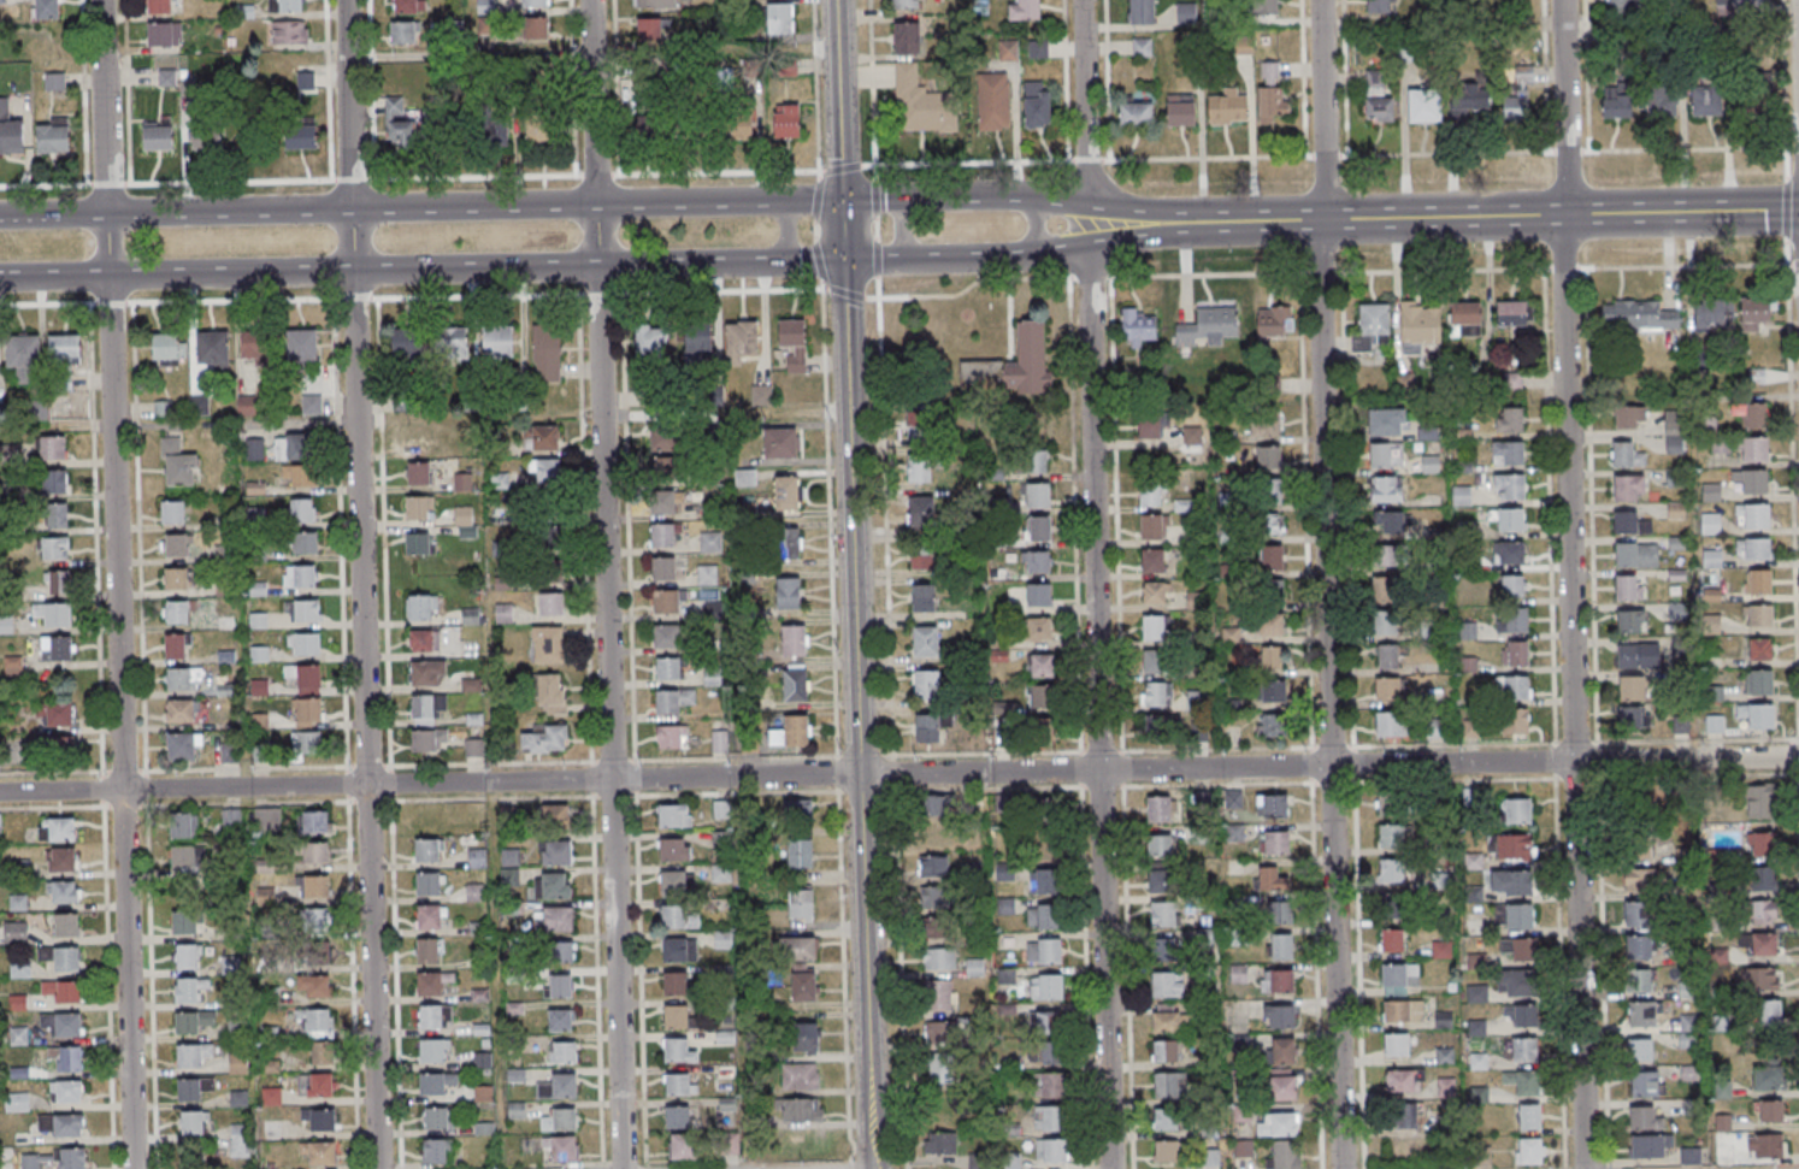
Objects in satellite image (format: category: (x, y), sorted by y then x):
building: (535, 4)
building: (654, 4)
building: (903, 4)
building: (1736, 4)
building: (160, 6)
building: (290, 6)
building: (408, 6)
building: (1378, 6)
building: (1264, 7)
building: (47, 8)
building: (1624, 8)
building: (1025, 11)
building: (1142, 12)
building: (1186, 12)
building: (779, 18)
building: (536, 28)
building: (649, 29)
building: (289, 31)
building: (403, 33)
building: (164, 34)
building: (906, 37)
building: (306, 81)
building: (1270, 90)
building: (635, 94)
building: (1378, 98)
building: (1470, 99)
building: (1617, 100)
building: (1706, 100)
building: (914, 101)
building: (991, 101)
building: (1756, 102)
building: (1662, 104)
building: (1036, 105)
building: (1515, 105)
building: (1425, 106)
building: (1228, 107)
building: (1180, 111)
building: (1136, 116)
building: (786, 120)
building: (737, 124)
building: (401, 125)
building: (645, 128)
building: (539, 132)
building: (11, 134)
building: (53, 135)
building: (489, 135)
building: (158, 136)
building: (206, 136)
building: (301, 136)
traffic signals: (842, 200)
road: (601, 203)
road: (1681, 213)
road: (53, 214)
road: (1325, 219)
road: (904, 229)
road: (1032, 229)
road: (789, 230)
traffic signals: (843, 261)
road: (629, 265)
road: (81, 277)
road: (901, 296)
building: (1756, 313)
building: (1511, 314)
building: (1638, 315)
building: (1710, 315)
building: (1464, 318)
building: (1274, 321)
building: (1420, 323)
building: (1372, 325)
building: (1209, 326)
building: (1138, 327)
building: (741, 340)
building: (454, 341)
building: (497, 341)
building: (649, 341)
building: (792, 342)
building: (407, 344)
building: (256, 346)
building: (306, 346)
building: (64, 347)
building: (167, 348)
building: (213, 348)
building: (547, 352)
building: (24, 356)
building: (1011, 366)
building: (1756, 377)
building: (761, 394)
building: (412, 400)
building: (246, 406)
building: (1751, 415)
building: (1630, 417)
building: (1509, 419)
building: (1387, 421)
road: (234, 423)
building: (1264, 425)
building: (922, 426)
building: (1149, 427)
building: (1674, 431)
building: (544, 437)
building: (665, 438)
building: (780, 443)
building: (293, 447)
building: (1720, 447)
building: (53, 448)
building: (1754, 450)
building: (1508, 453)
building: (1386, 455)
building: (1627, 455)
building: (1268, 456)
building: (1033, 461)
building: (177, 464)
building: (663, 466)
building: (924, 467)
building: (545, 471)
building: (418, 472)
building: (297, 476)
building: (53, 480)
building: (462, 482)
building: (1753, 483)
building: (1509, 486)
building: (1629, 488)
building: (1386, 489)
building: (1270, 490)
building: (1711, 491)
building: (788, 492)
building: (1038, 495)
building: (1149, 495)
building: (662, 502)
building: (419, 508)
building: (300, 509)
building: (173, 510)
building: (924, 513)
building: (462, 514)
building: (58, 515)
building: (1754, 515)
building: (1509, 519)
building: (1388, 521)
building: (1629, 522)
building: (1710, 522)
building: (1270, 524)
building: (1038, 527)
building: (1152, 527)
building: (468, 531)
building: (665, 533)
building: (308, 542)
building: (709, 542)
building: (417, 543)
building: (789, 543)
building: (176, 544)
building: (55, 548)
building: (1753, 549)
building: (1509, 551)
building: (553, 553)
building: (1638, 554)
building: (1390, 555)
building: (1272, 557)
building: (1711, 559)
building: (921, 560)
building: (1036, 561)
building: (1151, 561)
building: (662, 568)
building: (707, 574)
building: (305, 575)
building: (177, 578)
road: (853, 580)
building: (1759, 581)
building: (58, 583)
road: (116, 584)
road: (361, 584)
road: (606, 584)
road: (1095, 584)
road: (1327, 584)
road: (1570, 584)
building: (1512, 585)
building: (1629, 588)
building: (1386, 590)
building: (788, 591)
building: (1270, 591)
building: (1152, 594)
building: (1038, 595)
building: (922, 598)
building: (668, 600)
building: (1196, 601)
building: (552, 603)
building: (420, 606)
building: (713, 609)
building: (305, 610)
building: (176, 612)
building: (54, 613)
building: (503, 613)
building: (470, 615)
building: (1759, 615)
building: (1516, 620)
building: (1632, 621)
building: (6, 624)
building: (1385, 624)
building: (1267, 625)
building: (1154, 627)
building: (1039, 628)
building: (670, 634)
building: (421, 639)
building: (795, 640)
building: (925, 640)
building: (306, 644)
building: (548, 644)
building: (175, 647)
building: (57, 648)
building: (1760, 649)
building: (1515, 653)
building: (1387, 656)
building: (1639, 656)
building: (1272, 659)
building: (1154, 662)
building: (1039, 665)
building: (671, 667)
building: (425, 673)
building: (713, 677)
building: (178, 679)
building: (308, 679)
building: (1759, 683)
building: (795, 684)
building: (926, 686)
building: (1512, 686)
building: (1386, 689)
building: (1632, 689)
building: (1272, 692)
building: (552, 693)
building: (1154, 695)
building: (1040, 696)
building: (673, 699)
building: (1197, 701)
building: (427, 707)
building: (308, 712)
building: (179, 713)
building: (54, 714)
building: (1757, 715)
building: (473, 718)
building: (1630, 718)
building: (1515, 720)
building: (259, 721)
building: (1388, 724)
building: (1161, 725)
building: (1273, 725)
building: (1680, 725)
building: (1715, 725)
building: (930, 728)
building: (790, 731)
building: (672, 736)
building: (544, 737)
building: (426, 738)
building: (720, 740)
building: (306, 743)
building: (473, 746)
building: (181, 748)
building: (229, 752)
road: (898, 774)
building: (1760, 801)
building: (1629, 803)
building: (1274, 805)
building: (934, 807)
building: (1010, 809)
building: (1158, 809)
building: (720, 810)
building: (796, 810)
building: (1517, 810)
building: (1049, 813)
building: (507, 815)
building: (674, 815)
building: (552, 817)
building: (231, 820)
building: (427, 821)
building: (0, 823)
building: (314, 823)
building: (183, 826)
building: (58, 828)
building: (934, 836)
building: (1391, 836)
building: (1632, 840)
building: (1274, 842)
building: (1760, 844)
building: (1162, 845)
building: (1515, 846)
building: (674, 849)
building: (429, 850)
building: (800, 852)
building: (315, 854)
building: (556, 854)
building: (183, 857)
building: (61, 858)
building: (477, 858)
building: (509, 858)
building: (1473, 861)
building: (933, 867)
building: (972, 872)
building: (1392, 872)
building: (720, 873)
building: (1160, 879)
building: (1270, 879)
building: (1644, 879)
building: (1764, 879)
building: (672, 882)
building: (1042, 882)
building: (1511, 882)
building: (429, 884)
building: (553, 886)
building: (314, 887)
building: (63, 891)
building: (474, 893)
building: (1474, 895)
building: (934, 896)
building: (801, 904)
building: (1394, 910)
building: (1641, 911)
building: (1275, 913)
building: (1162, 914)
building: (1763, 914)
building: (1516, 916)
building: (429, 917)
building: (678, 917)
building: (1043, 917)
building: (314, 919)
building: (554, 919)
building: (184, 923)
building: (66, 925)
building: (937, 928)
building: (14, 932)
building: (1391, 941)
building: (1759, 945)
building: (1282, 946)
building: (802, 947)
building: (1639, 947)
building: (1163, 949)
building: (1522, 949)
building: (679, 950)
building: (1439, 950)
building: (427, 951)
building: (561, 951)
building: (1043, 951)
building: (315, 952)
building: (187, 957)
building: (60, 958)
building: (940, 958)
building: (230, 966)
building: (974, 967)
building: (20, 972)
building: (1398, 976)
building: (1638, 980)
building: (1281, 981)
building: (676, 982)
building: (1517, 982)
building: (429, 984)
building: (1167, 984)
building: (803, 985)
building: (314, 986)
building: (560, 986)
building: (1046, 986)
building: (63, 991)
building: (187, 991)
building: (939, 996)
building: (1403, 1012)
building: (1642, 1012)
building: (1521, 1015)
building: (1769, 1015)
building: (676, 1016)
building: (1282, 1016)
building: (431, 1017)
building: (1166, 1019)
building: (560, 1020)
building: (1048, 1021)
building: (193, 1022)
building: (315, 1023)
building: (63, 1025)
building: (237, 1031)
building: (939, 1033)
building: (804, 1037)
building: (1396, 1045)
building: (1642, 1049)
building: (1166, 1050)
building: (1524, 1050)
building: (432, 1051)
building: (562, 1051)
building: (678, 1051)
building: (1284, 1051)
building: (1046, 1053)
building: (193, 1055)
building: (320, 1055)
building: (70, 1059)
building: (237, 1064)
building: (271, 1067)
building: (937, 1070)
building: (803, 1076)
building: (1769, 1079)
building: (1405, 1081)
building: (1523, 1082)
building: (432, 1084)
building: (1169, 1084)
building: (1645, 1084)
building: (679, 1085)
building: (315, 1086)
building: (559, 1086)
building: (1052, 1086)
building: (1446, 1087)
building: (193, 1088)
building: (1282, 1090)
building: (66, 1092)
building: (272, 1097)
building: (800, 1110)
building: (1771, 1110)
building: (943, 1111)
building: (677, 1116)
building: (1405, 1116)
building: (436, 1117)
building: (1528, 1117)
building: (1645, 1117)
building: (319, 1118)
building: (559, 1120)
building: (1049, 1120)
building: (1164, 1121)
building: (191, 1123)
building: (69, 1126)
building: (1276, 1126)
building: (272, 1130)
building: (242, 1140)
building: (939, 1144)
building: (729, 1145)
building: (1765, 1145)
building: (1648, 1146)
building: (684, 1147)
building: (564, 1149)
building: (436, 1151)
building: (319, 1152)
building: (1051, 1152)
building: (1166, 1152)
building: (1528, 1152)
building: (1284, 1155)
building: (1691, 1156)
building: (72, 1158)
building: (977, 1162)
building: (1011, 1162)
road: (872, 1165)

